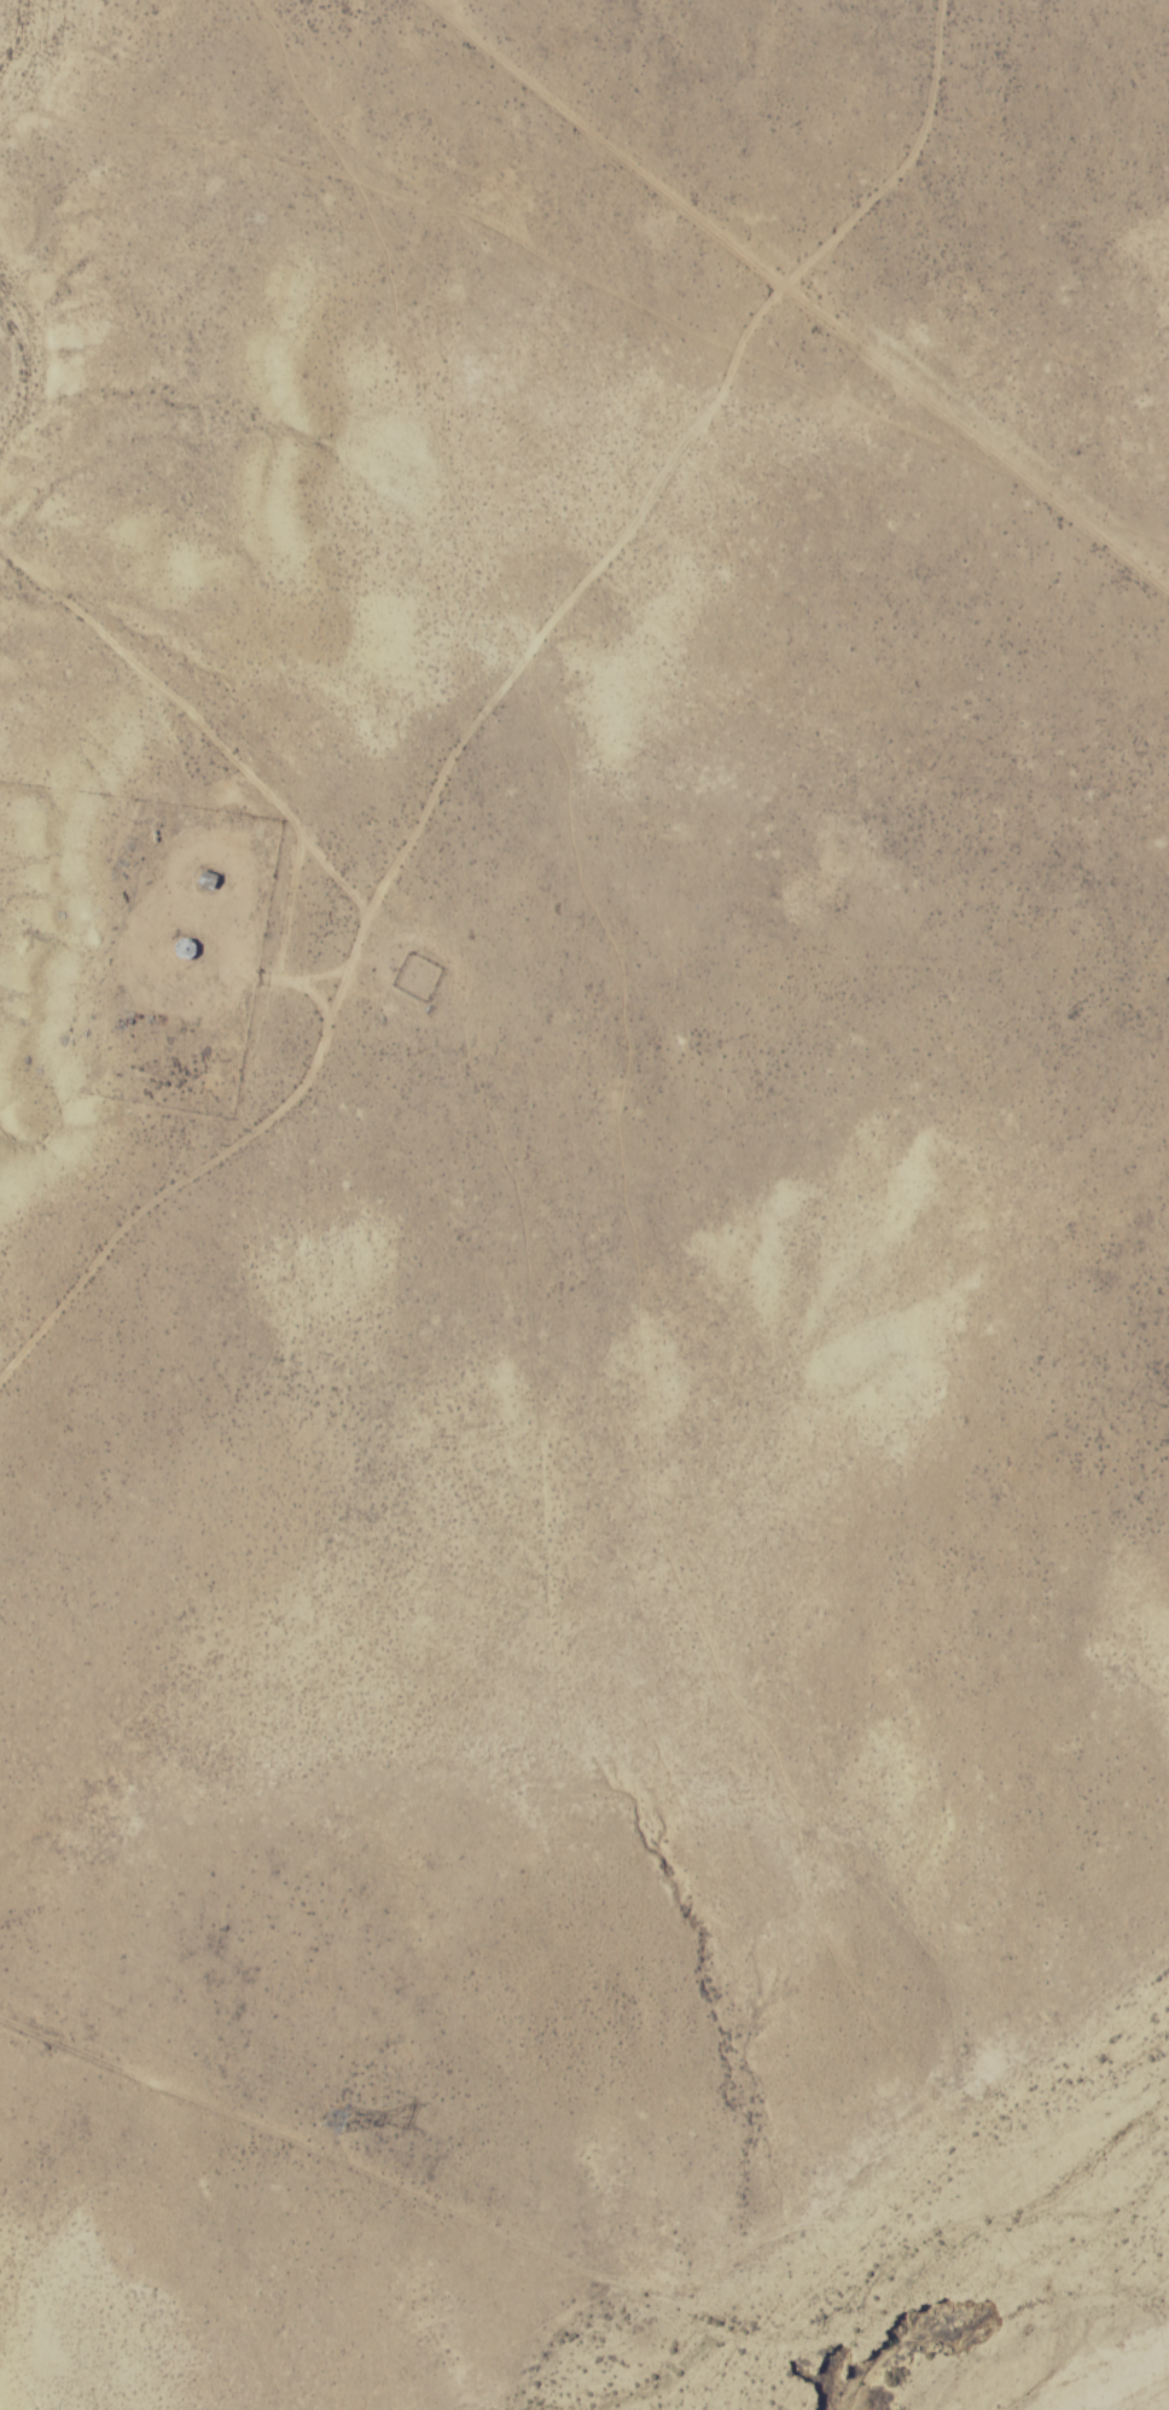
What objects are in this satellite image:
road: (936, 445)
road: (470, 695)
building: (207, 878)
road: (569, 1595)
power tower: (339, 2119)

